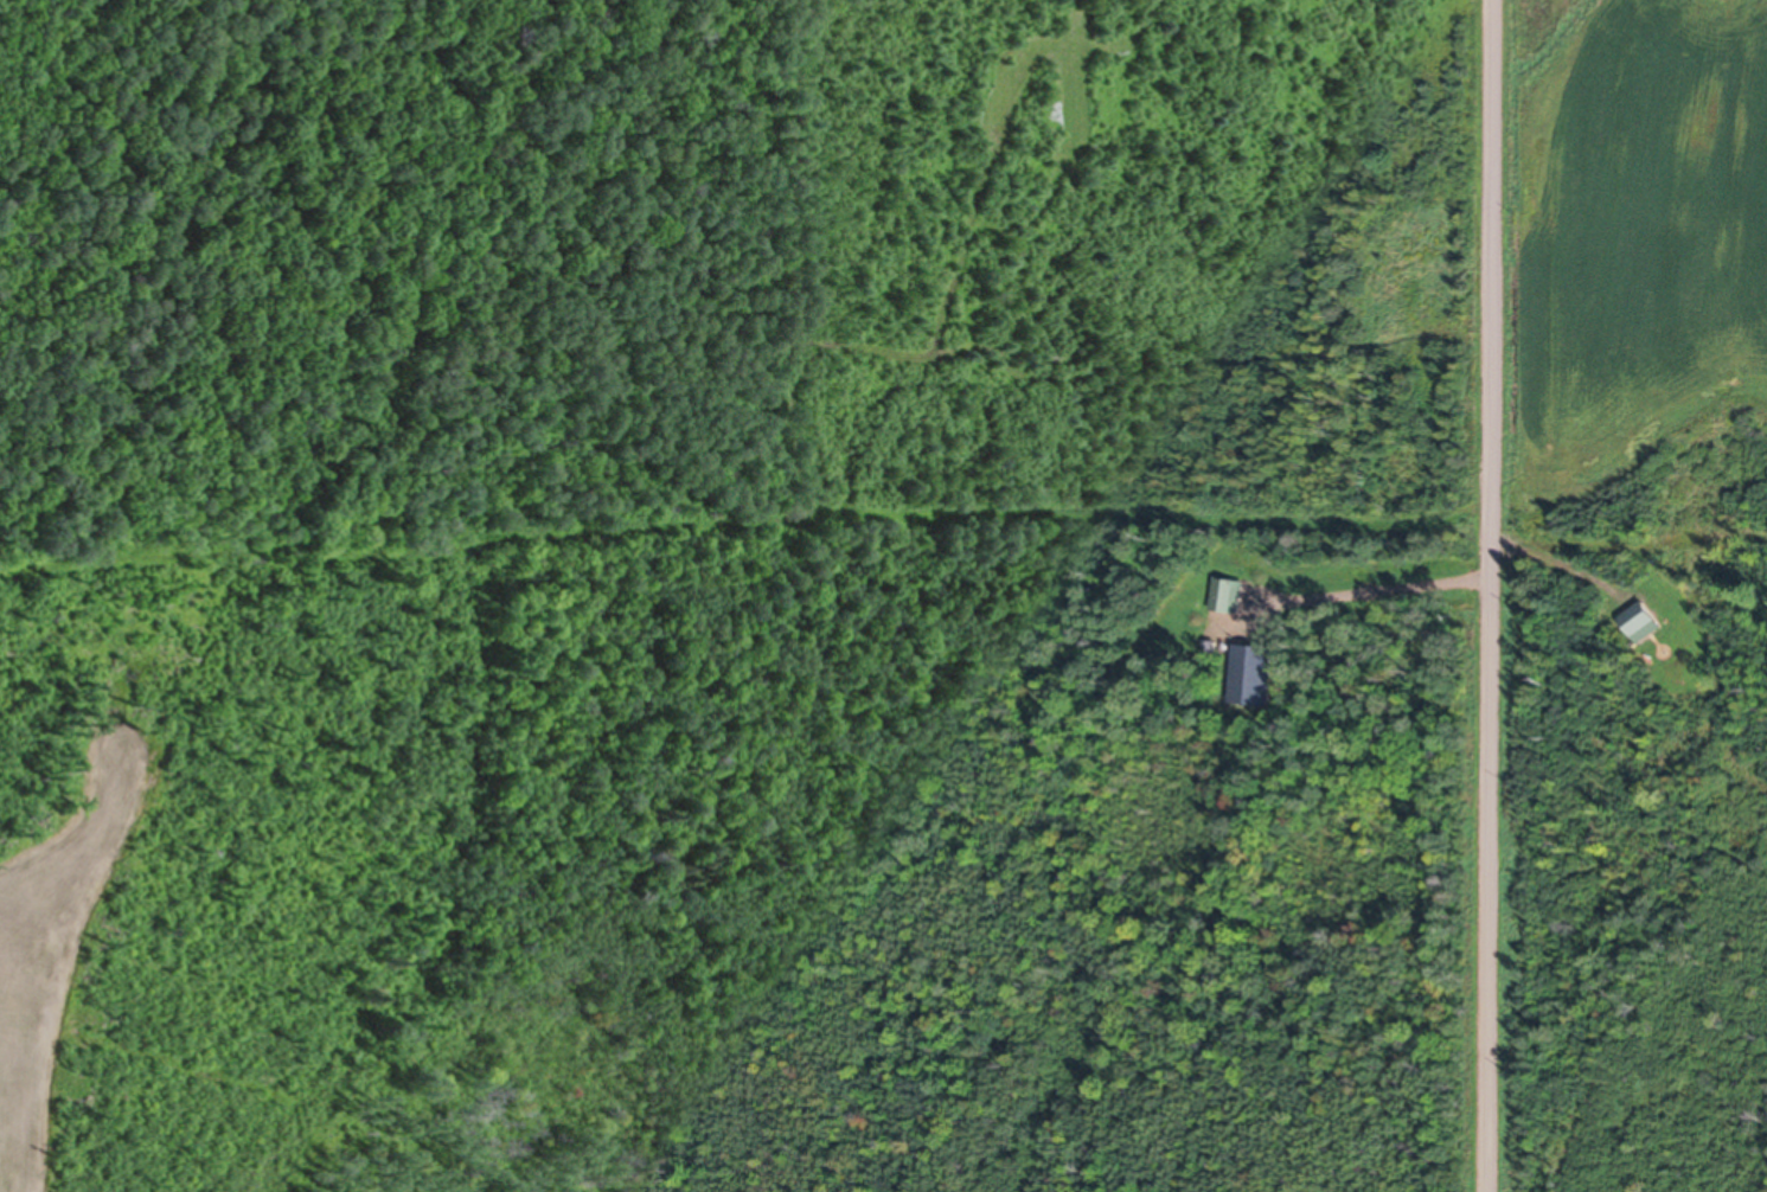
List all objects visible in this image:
road: (1491, 596)
building: (1229, 597)
building: (1644, 624)
building: (1253, 677)

